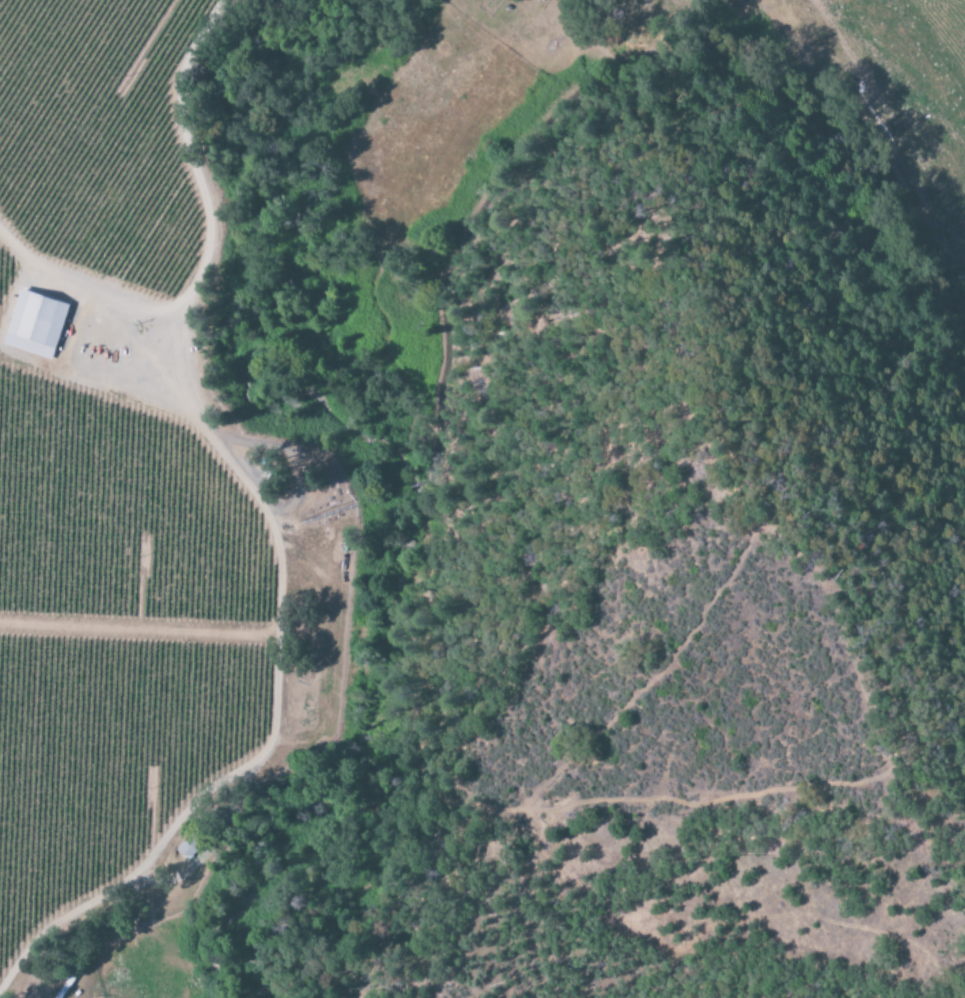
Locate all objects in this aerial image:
building: (33, 325)
building: (187, 849)

